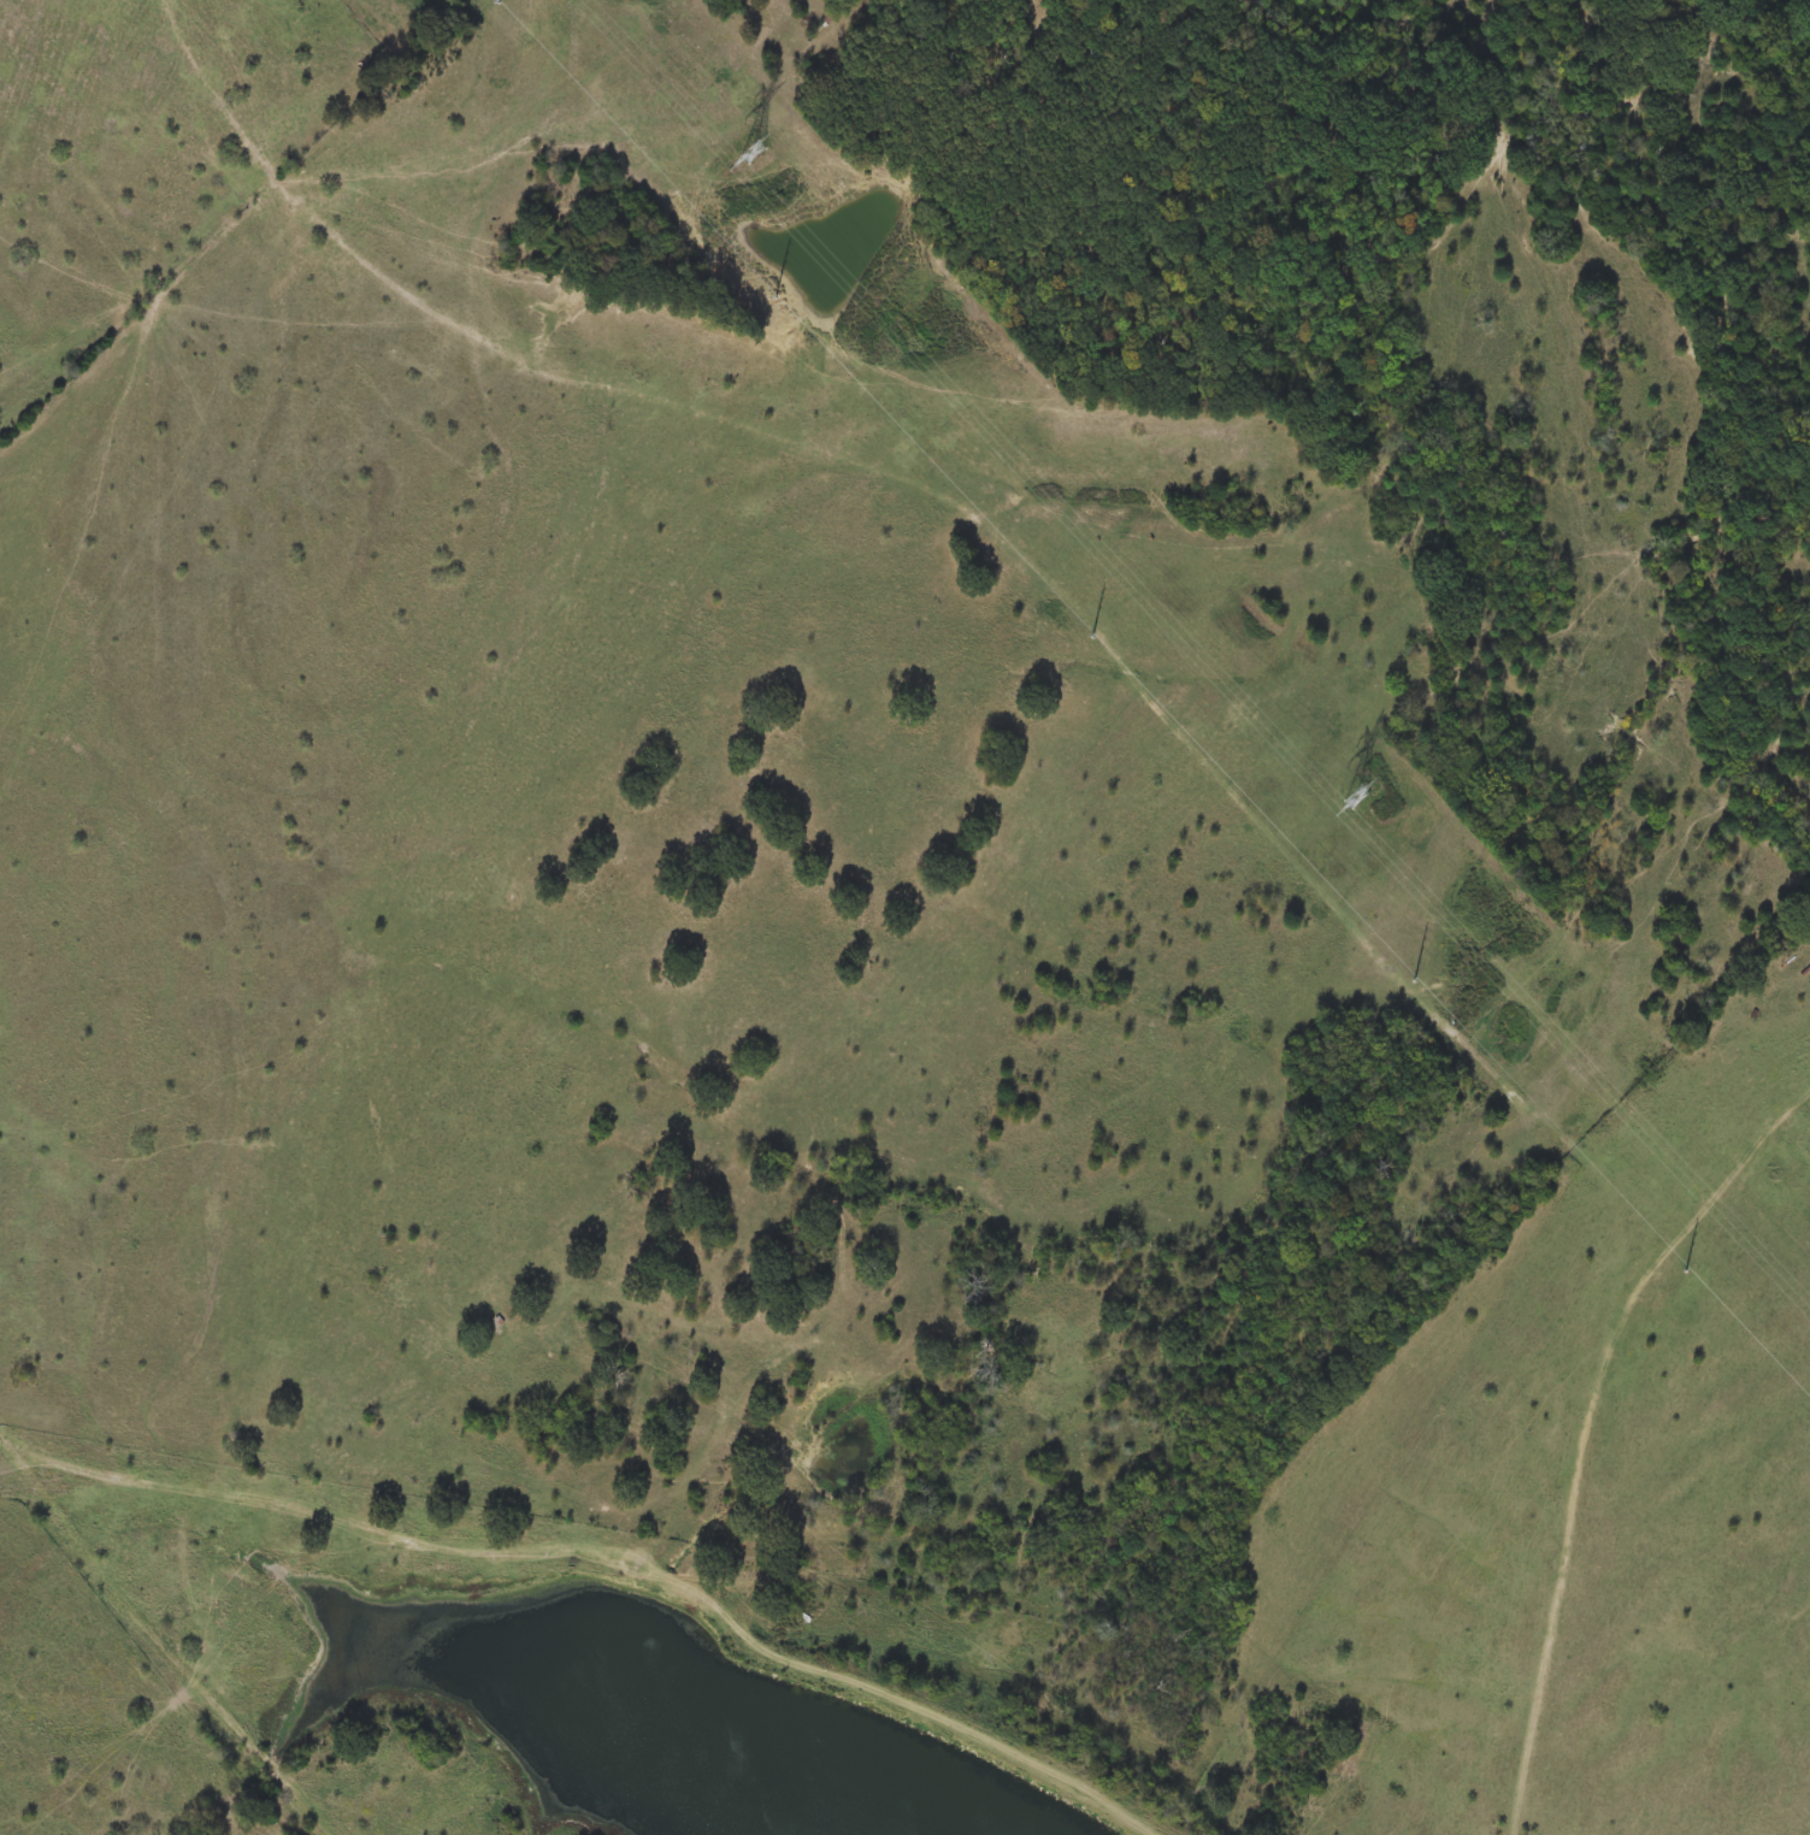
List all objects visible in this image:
power tower: (759, 151)
power tower: (1361, 797)
road: (5, 1438)

